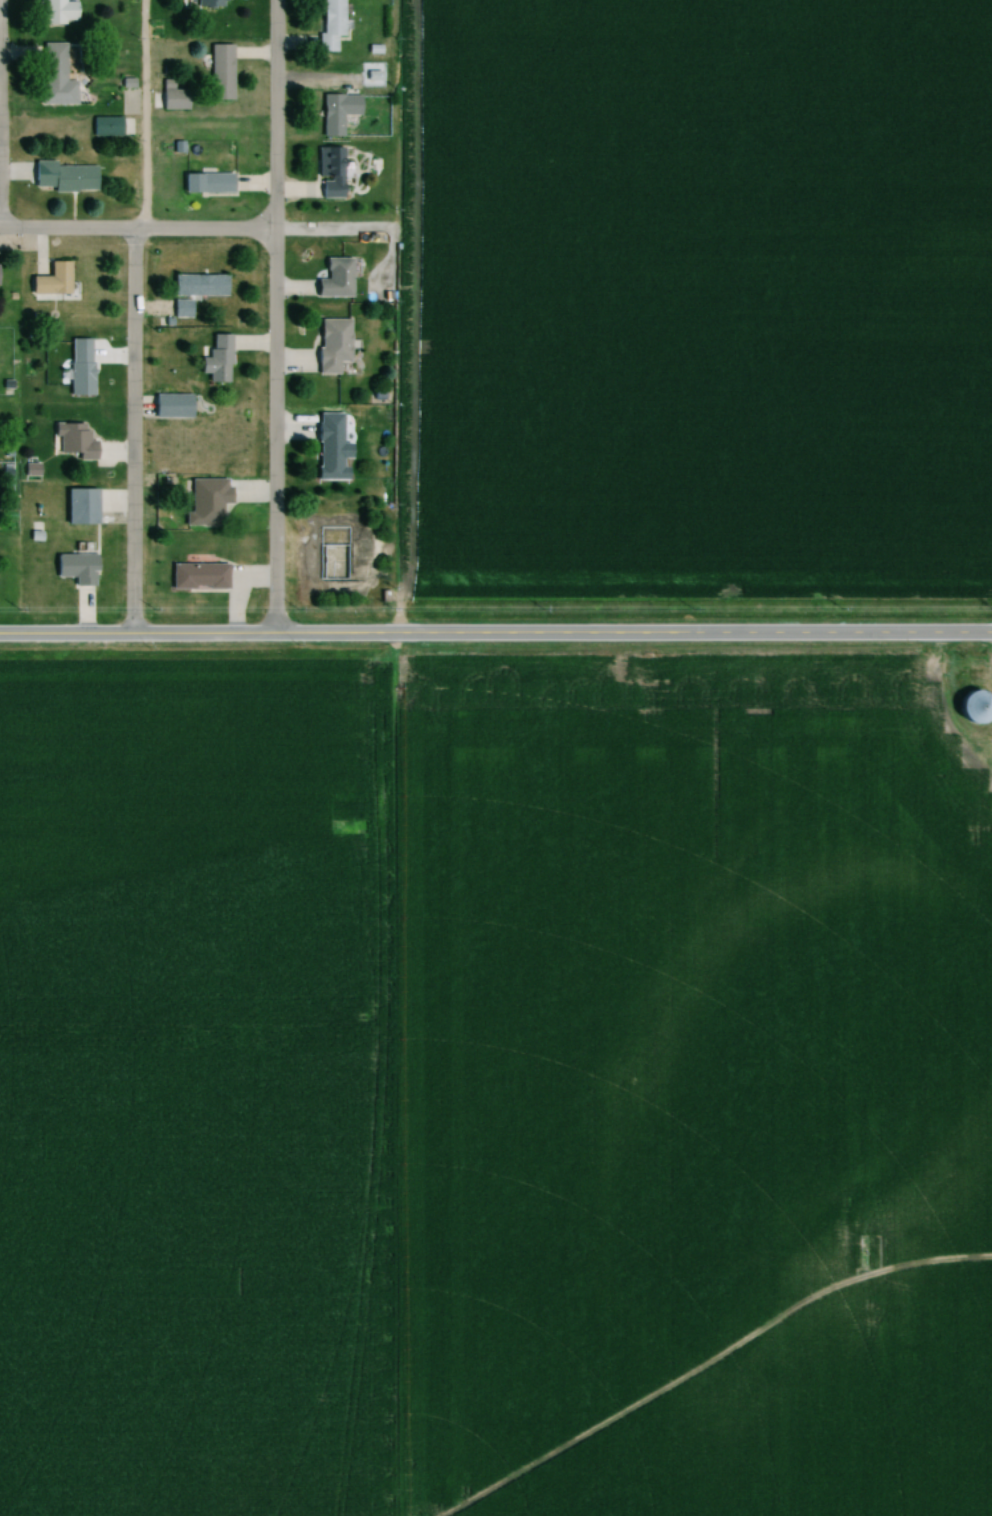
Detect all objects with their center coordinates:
building: (208, 4)
building: (55, 12)
building: (328, 25)
building: (219, 73)
building: (53, 77)
building: (171, 97)
building: (336, 113)
road: (141, 114)
building: (105, 127)
building: (329, 173)
building: (63, 177)
building: (205, 184)
road: (138, 229)
building: (333, 280)
building: (49, 281)
building: (197, 286)
building: (180, 310)
road: (275, 317)
road: (414, 318)
building: (330, 346)
building: (215, 361)
building: (78, 369)
building: (169, 407)
road: (132, 433)
building: (71, 443)
building: (328, 449)
building: (205, 503)
building: (78, 508)
building: (75, 566)
building: (197, 577)
road: (709, 634)
road: (213, 635)
crop: (692, 1089)

